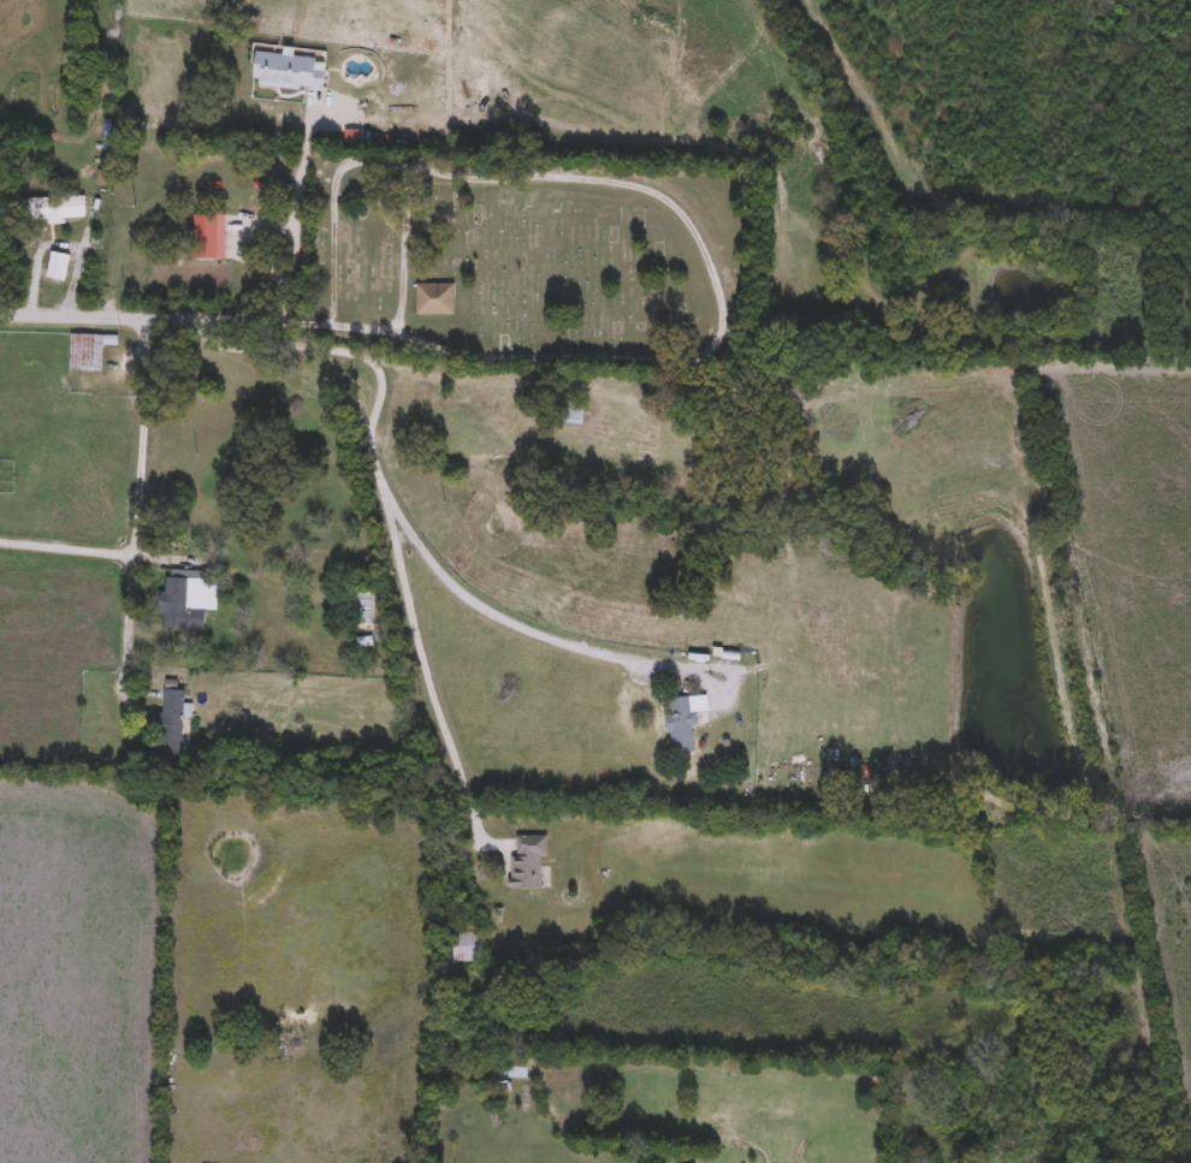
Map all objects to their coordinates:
building: (288, 72)
road: (640, 191)
road: (294, 216)
building: (195, 229)
road: (402, 251)
park: (525, 260)
building: (434, 299)
road: (165, 319)
building: (85, 354)
building: (570, 414)
road: (137, 504)
road: (387, 506)
road: (100, 553)
building: (188, 600)
road: (423, 676)
building: (171, 723)
building: (681, 725)
building: (528, 862)
building: (467, 948)
building: (512, 1067)

